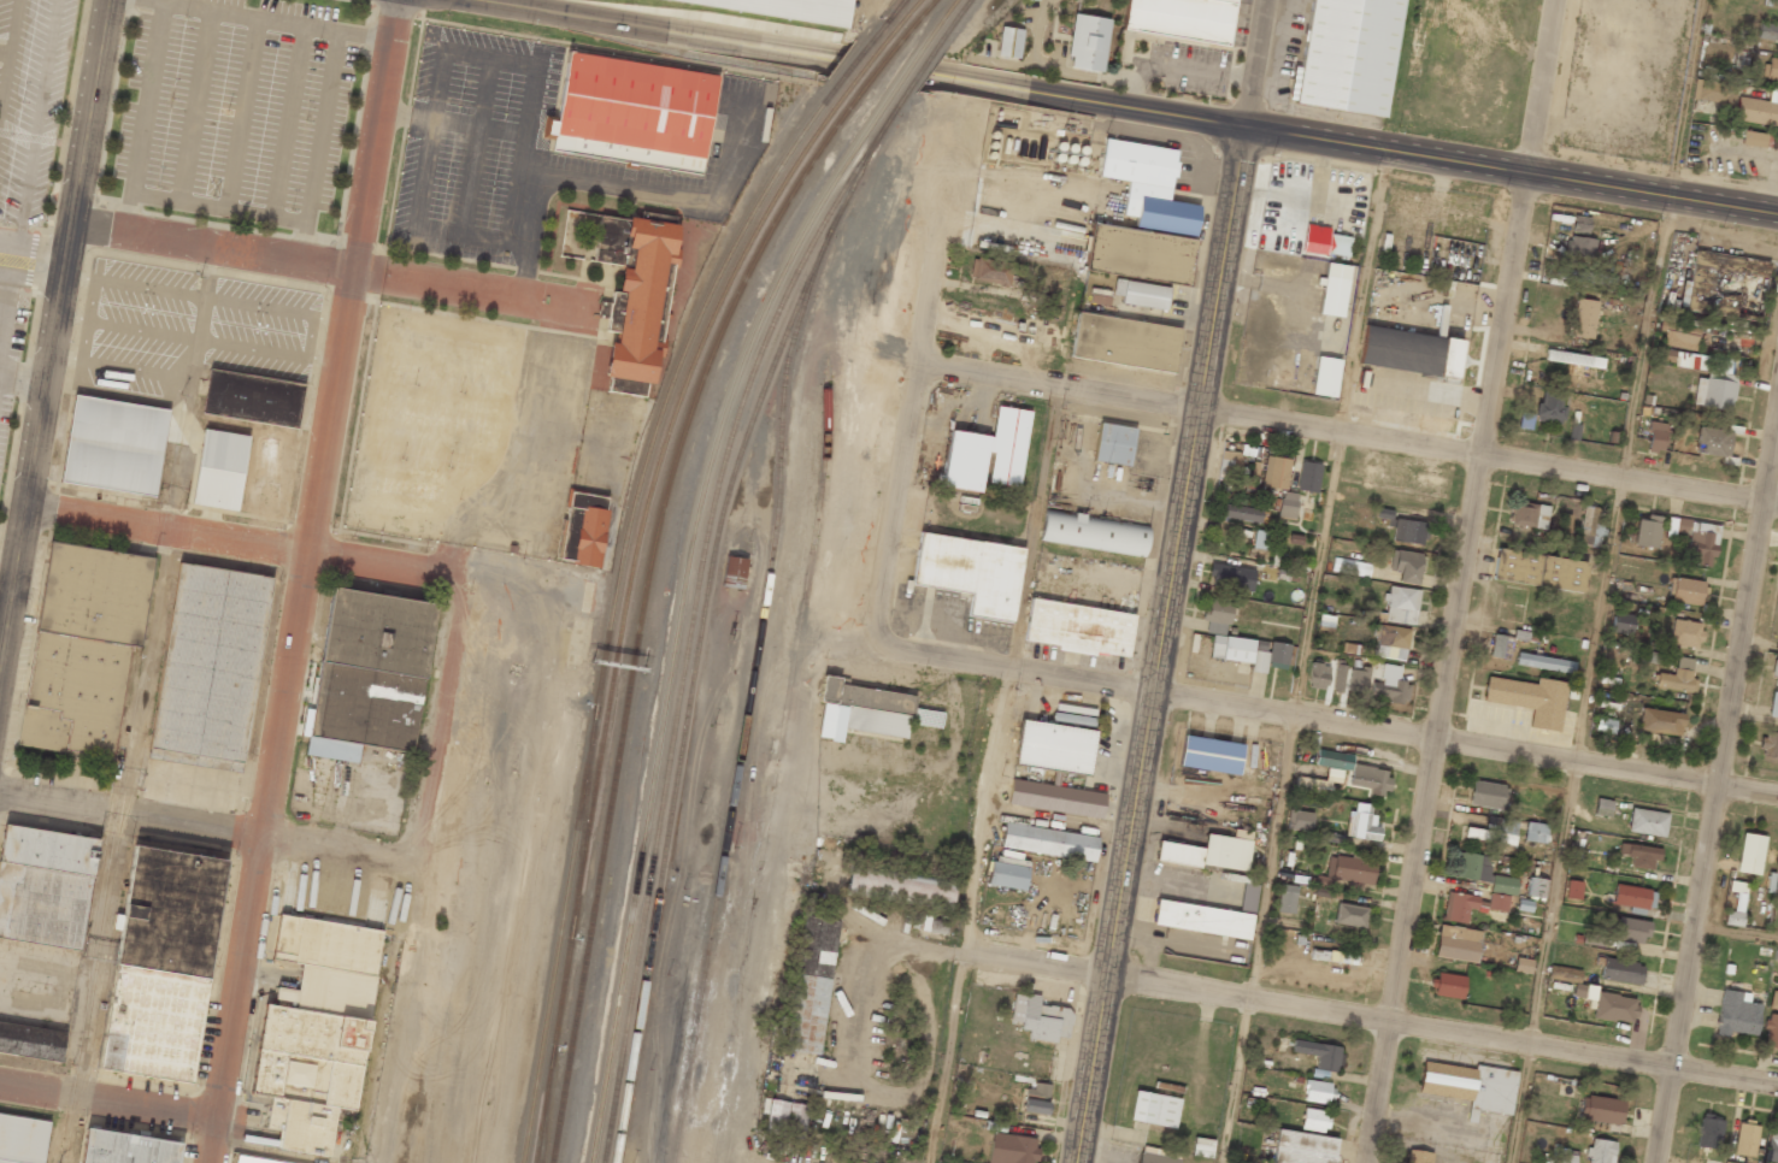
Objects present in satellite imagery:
building: (790, 8)
railway: (893, 11)
railway: (888, 18)
building: (1182, 18)
railway: (903, 19)
railway: (917, 20)
railway: (938, 22)
railway: (950, 23)
building: (1767, 31)
building: (1009, 42)
building: (1088, 42)
road: (5, 53)
road: (8, 55)
building: (1347, 55)
railway: (853, 63)
road: (1258, 64)
railway: (867, 65)
road: (850, 66)
railway: (879, 66)
building: (1771, 69)
railway: (906, 70)
railway: (918, 71)
building: (1712, 91)
parking lot: (30, 100)
parking lot: (236, 107)
building: (1758, 110)
building: (631, 113)
road: (39, 123)
building: (1755, 140)
road: (1513, 171)
building: (1148, 185)
building: (1580, 225)
building: (1337, 246)
road: (31, 247)
road: (1083, 247)
building: (1579, 247)
road: (213, 248)
building: (1138, 253)
building: (989, 271)
road: (4, 273)
road: (8, 274)
building: (1586, 277)
building: (1333, 289)
building: (1141, 294)
building: (638, 299)
road: (929, 309)
road: (0, 317)
building: (1583, 318)
parking lot: (188, 326)
road: (53, 329)
building: (1125, 342)
parking lot: (10, 352)
building: (1409, 352)
building: (1573, 359)
building: (1325, 377)
building: (1705, 378)
road: (1639, 382)
building: (252, 397)
building: (1550, 406)
building: (1655, 436)
road: (1348, 441)
building: (1712, 442)
building: (114, 444)
building: (1113, 444)
building: (988, 453)
building: (220, 468)
building: (1276, 472)
building: (1308, 477)
building: (1287, 504)
road: (895, 512)
building: (1241, 512)
building: (1530, 515)
building: (1590, 526)
road: (1037, 527)
building: (584, 529)
building: (1408, 531)
building: (1645, 531)
building: (1094, 532)
building: (1261, 539)
building: (1695, 539)
road: (231, 542)
building: (1406, 566)
building: (1350, 567)
building: (1538, 569)
building: (734, 572)
building: (971, 572)
building: (1231, 577)
road: (302, 580)
road: (1464, 581)
building: (1685, 591)
railway: (612, 603)
railway: (624, 603)
building: (1401, 604)
railway: (642, 606)
railway: (682, 609)
railway: (694, 610)
building: (1217, 615)
building: (1621, 622)
building: (1079, 628)
building: (378, 631)
building: (1685, 633)
railway: (700, 637)
building: (1391, 642)
road: (1761, 644)
road: (1164, 645)
building: (1500, 645)
building: (83, 648)
building: (1231, 649)
building: (1270, 655)
road: (1302, 656)
building: (211, 661)
building: (1544, 662)
building: (1774, 669)
building: (1318, 675)
building: (1677, 677)
building: (1338, 678)
building: (1358, 680)
building: (1389, 686)
building: (1530, 699)
building: (366, 704)
building: (1773, 706)
building: (861, 710)
building: (926, 718)
building: (1660, 721)
road: (1340, 725)
building: (1605, 725)
railway: (778, 742)
building: (1768, 745)
building: (1054, 746)
building: (1211, 755)
building: (1332, 771)
building: (1368, 779)
building: (1486, 795)
road: (1718, 797)
building: (1055, 798)
road: (129, 814)
building: (1299, 820)
building: (1362, 822)
building: (1647, 822)
building: (1494, 831)
building: (1535, 832)
building: (1330, 837)
building: (1048, 842)
building: (1211, 851)
building: (1750, 854)
building: (1639, 855)
building: (1472, 867)
building: (1008, 873)
building: (1343, 873)
building: (45, 885)
building: (1503, 885)
building: (900, 886)
building: (1573, 889)
building: (1248, 897)
building: (1632, 897)
building: (1287, 898)
building: (1472, 905)
road: (971, 915)
building: (1350, 915)
building: (1732, 917)
building: (1202, 919)
road: (1737, 931)
building: (1458, 943)
building: (161, 963)
road: (1544, 963)
building: (1521, 966)
building: (1620, 970)
building: (1564, 974)
building: (812, 985)
building: (1448, 985)
building: (1773, 999)
building: (1607, 1004)
road: (1323, 1005)
building: (319, 1013)
building: (1736, 1014)
building: (1040, 1017)
building: (1770, 1031)
building: (31, 1040)
building: (1318, 1056)
building: (1319, 1091)
building: (1036, 1098)
road: (107, 1104)
building: (1154, 1109)
building: (1601, 1110)
building: (785, 1118)
building: (1314, 1120)
building: (1709, 1130)
building: (23, 1138)
building: (1745, 1138)
building: (1772, 1145)
building: (126, 1147)
building: (1302, 1147)
building: (1011, 1149)
building: (1600, 1151)
building: (1565, 1155)
building: (1156, 1156)
building: (1418, 1156)
building: (252, 1161)
building: (1725, 1162)

